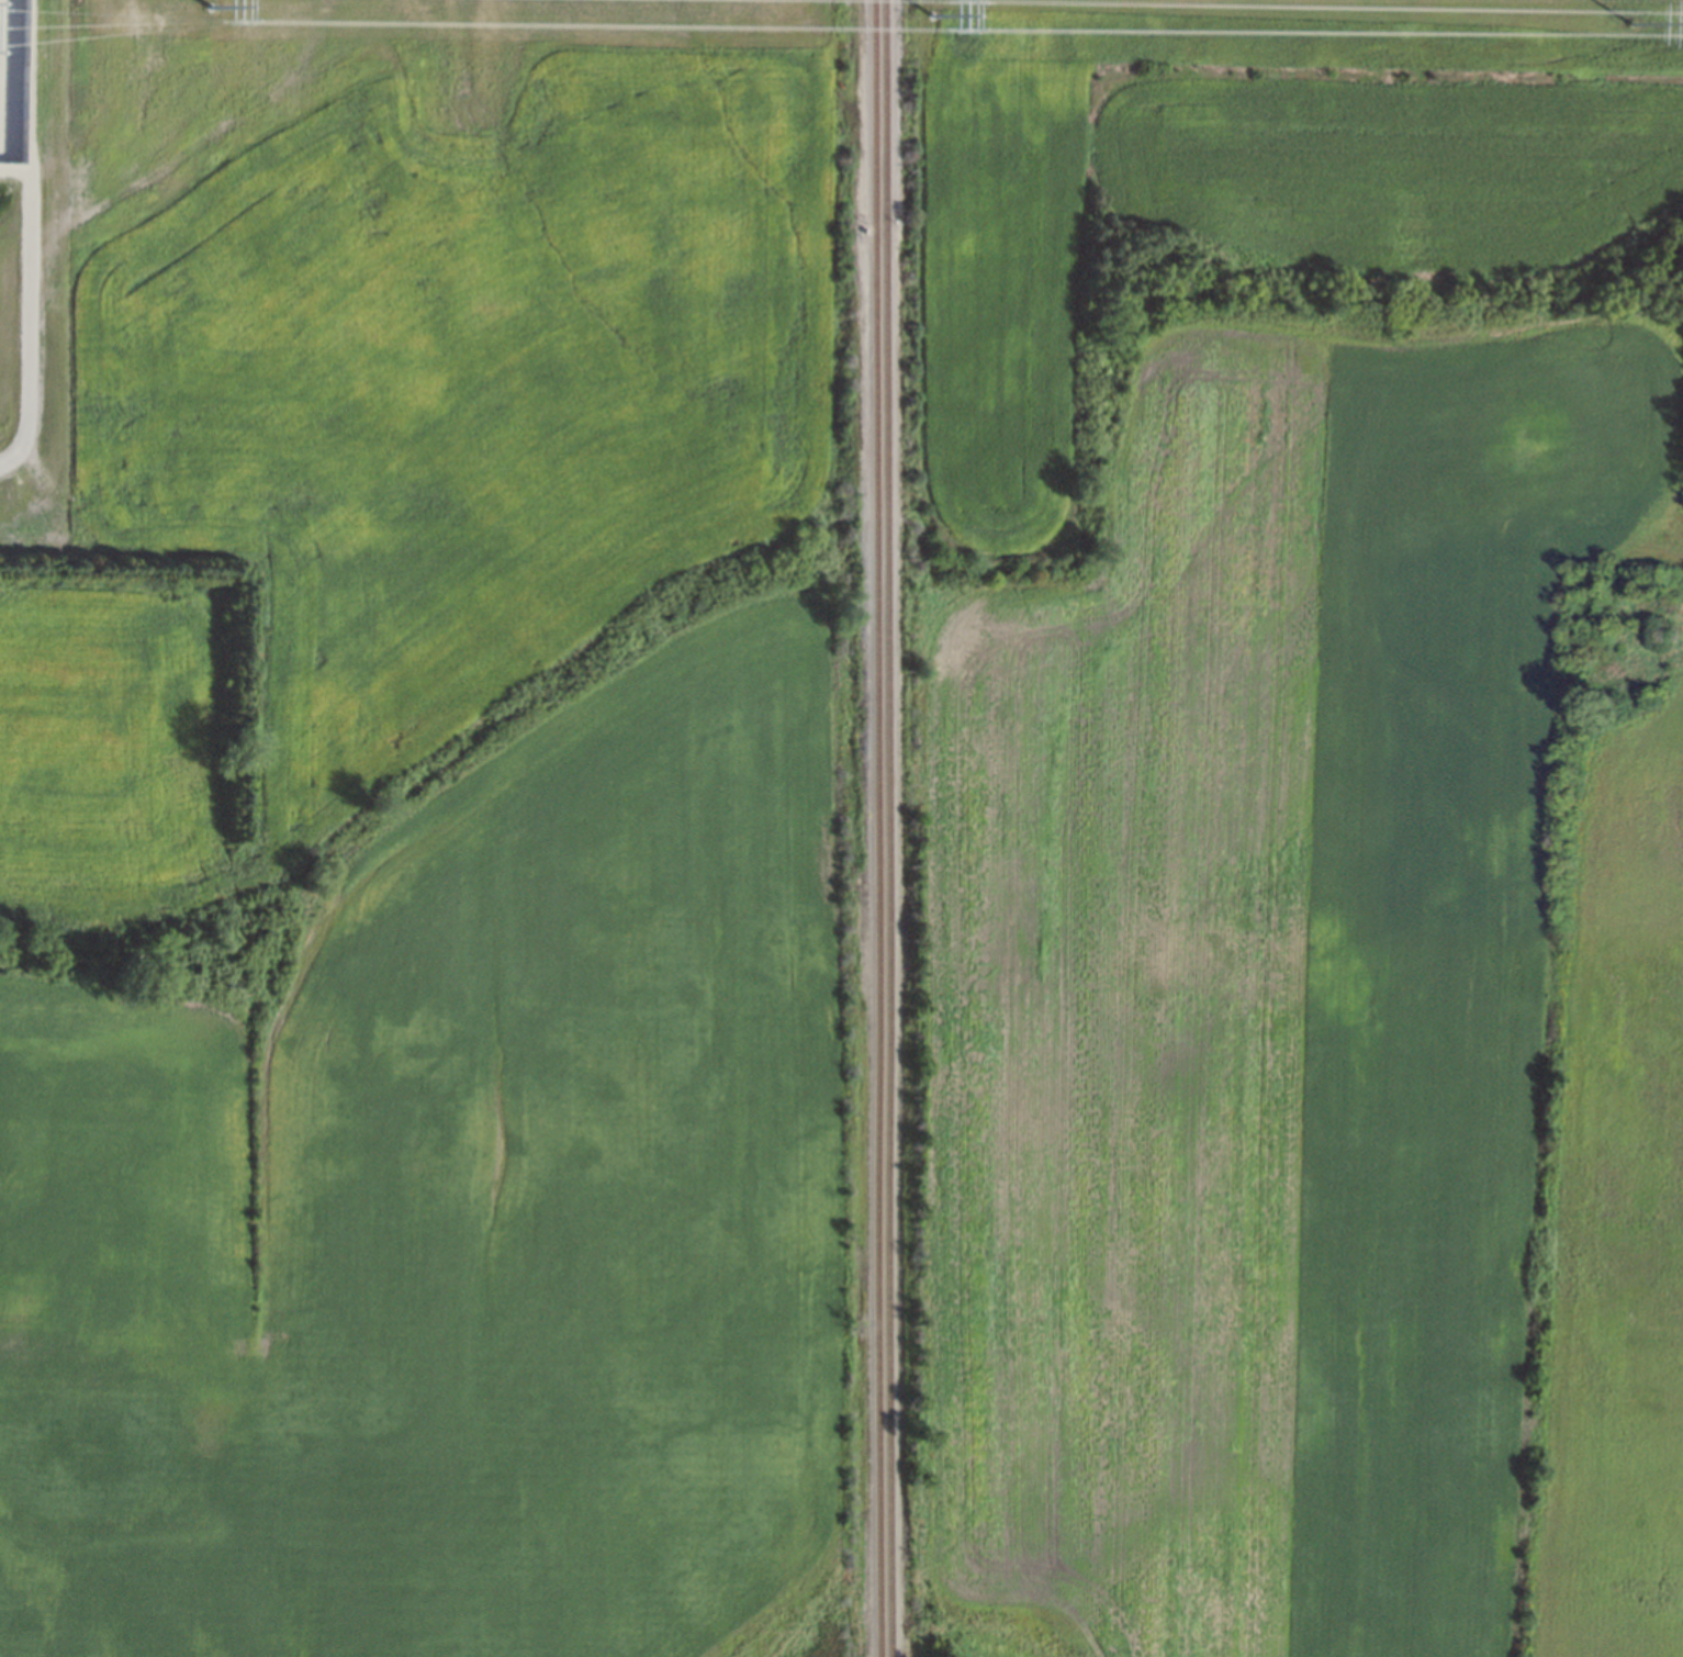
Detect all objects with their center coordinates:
power tower: (938, 2)
power tower: (1628, 12)
road: (0, 26)
power substation: (12, 74)
road: (32, 231)
railway: (876, 828)
railway: (888, 828)

